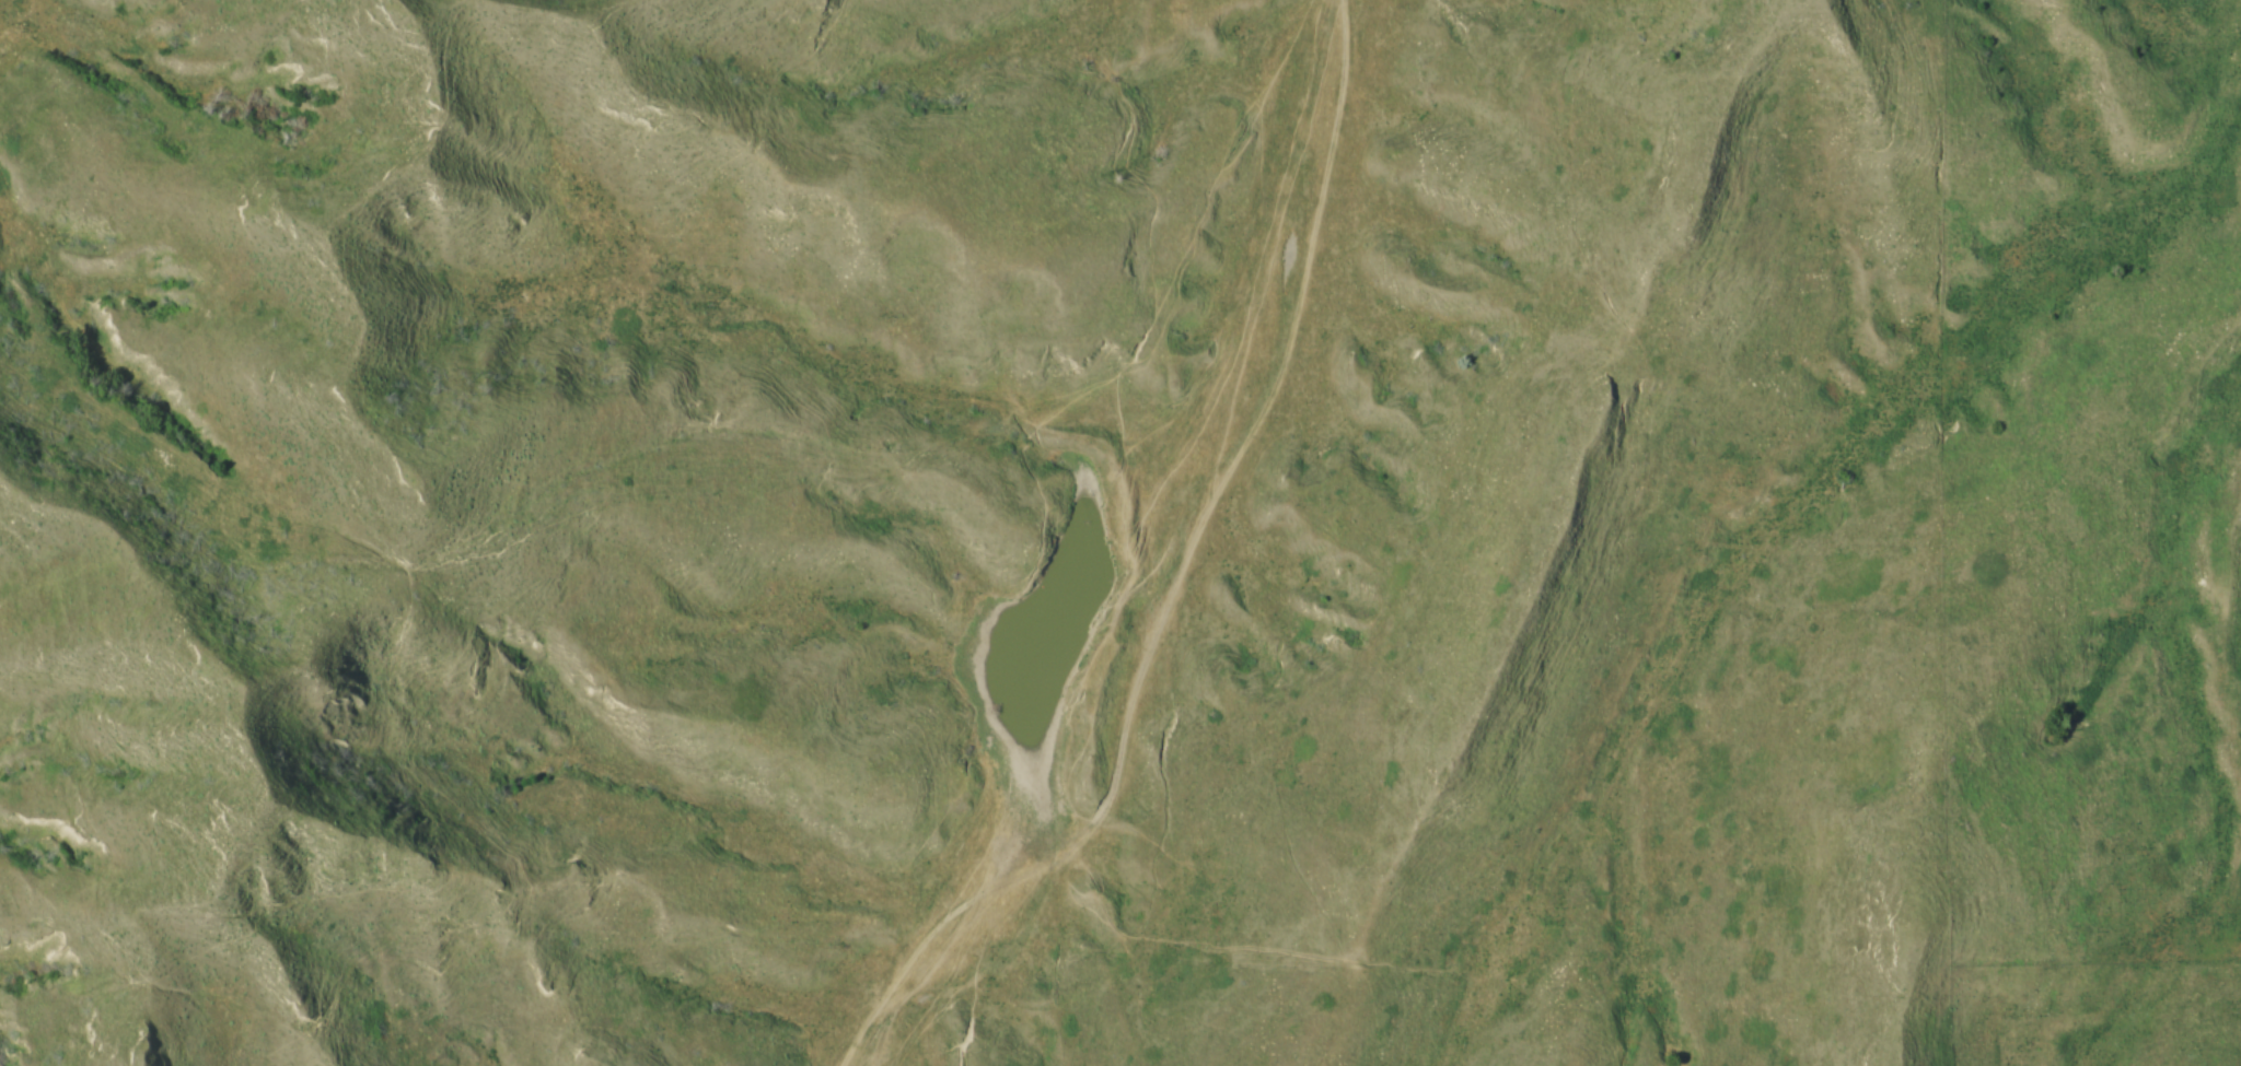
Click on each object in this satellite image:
road: (1173, 582)

